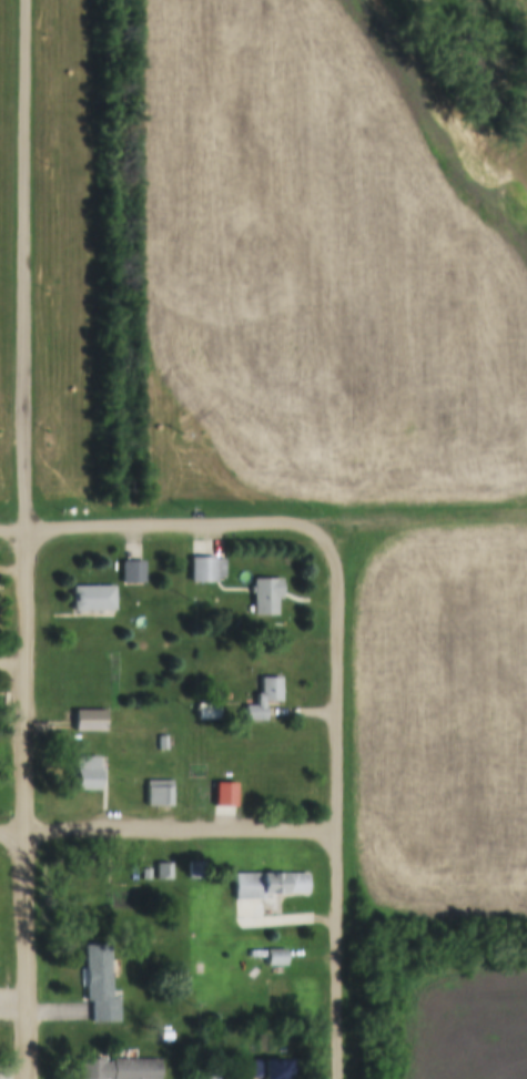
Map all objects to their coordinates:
road: (23, 265)
road: (176, 523)
road: (12, 531)
building: (205, 570)
building: (132, 573)
building: (265, 597)
building: (92, 599)
building: (263, 700)
building: (201, 713)
building: (89, 722)
building: (195, 773)
building: (84, 774)
building: (268, 786)
building: (159, 794)
building: (223, 795)
building: (195, 796)
road: (27, 804)
road: (335, 810)
road: (168, 831)
building: (196, 871)
building: (163, 872)
building: (267, 885)
building: (247, 955)
building: (275, 959)
building: (245, 983)
building: (99, 985)
building: (165, 1037)
building: (119, 1069)
building: (271, 1069)

